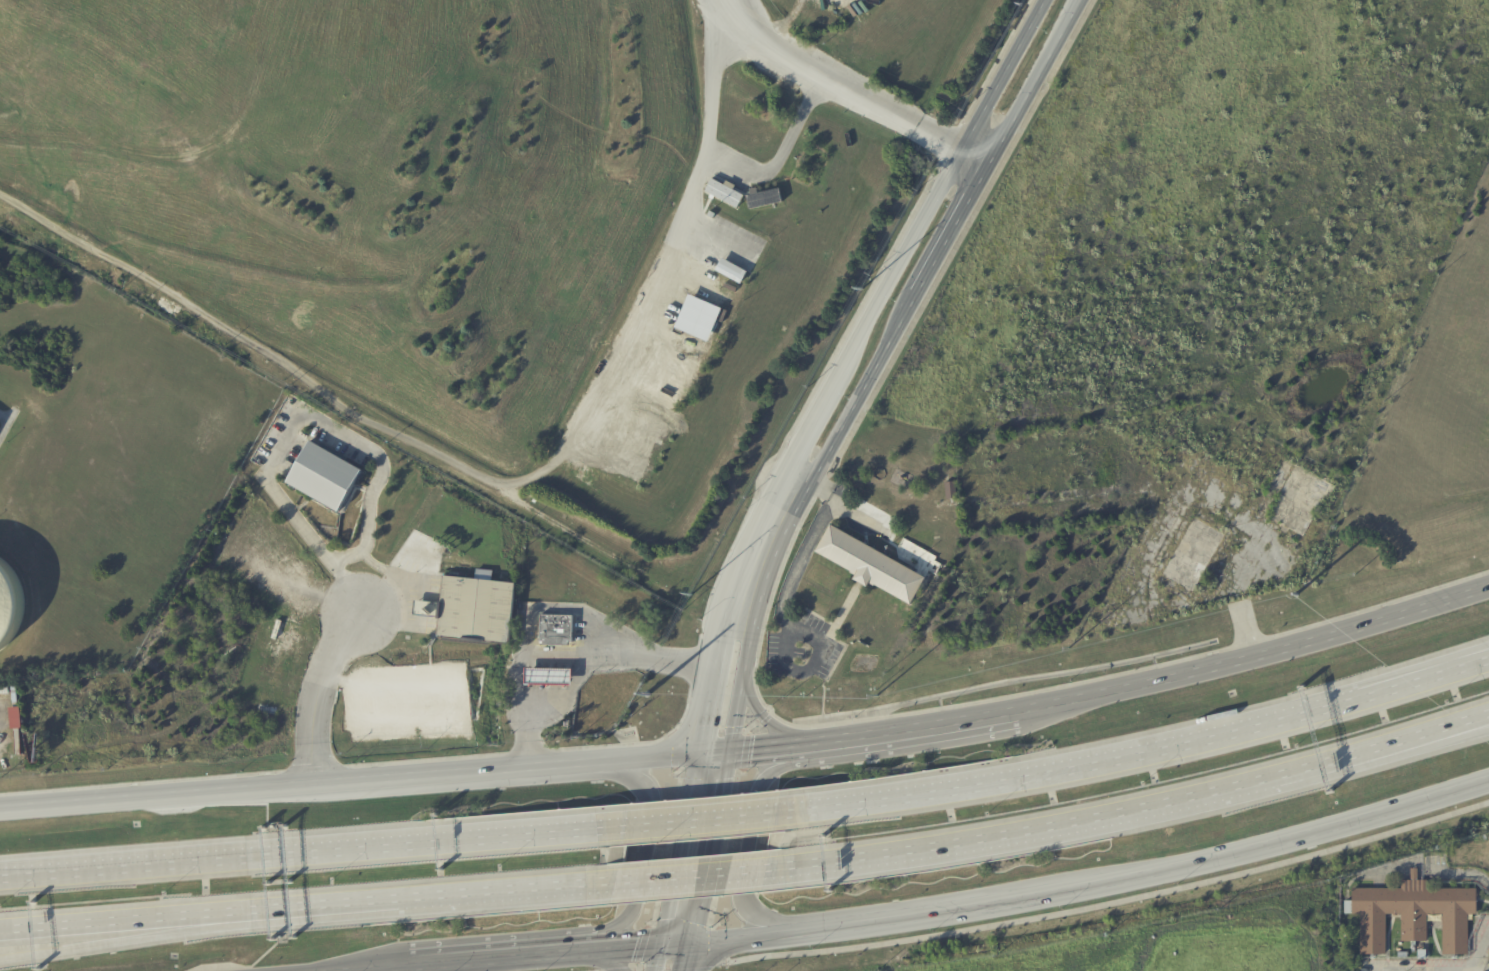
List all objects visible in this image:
road: (838, 80)
road: (971, 157)
road: (723, 166)
landfill: (374, 184)
building: (726, 193)
building: (764, 198)
road: (911, 235)
road: (943, 241)
building: (732, 274)
building: (736, 288)
building: (698, 317)
road: (298, 421)
road: (419, 445)
building: (328, 477)
road: (841, 504)
road: (776, 520)
building: (869, 565)
road: (746, 591)
storage tank: (10, 603)
road: (558, 606)
building: (473, 610)
road: (782, 627)
building: (557, 629)
road: (1254, 650)
road: (529, 656)
road: (1475, 658)
road: (1475, 659)
road: (583, 668)
building: (547, 675)
road: (708, 681)
road: (740, 682)
road: (312, 694)
building: (268, 710)
road: (762, 717)
road: (1470, 721)
road: (1470, 723)
road: (906, 728)
road: (760, 747)
traffic signals: (725, 750)
traffic signals: (692, 753)
road: (1124, 754)
road: (362, 780)
road: (1114, 814)
road: (702, 816)
road: (748, 835)
road: (708, 845)
road: (675, 848)
road: (1251, 848)
road: (312, 849)
road: (637, 852)
road: (1459, 873)
road: (692, 874)
road: (438, 896)
road: (1050, 913)
road: (890, 914)
building: (1411, 915)
road: (130, 922)
road: (730, 935)
road: (131, 939)
traffic signals: (690, 940)
road: (674, 941)
traffic signals: (659, 943)
road: (628, 946)
road: (685, 955)
building: (1402, 955)
building: (1421, 956)
road: (1477, 956)
road: (502, 957)
road: (654, 957)
road: (611, 958)
road: (374, 968)
road: (1479, 969)

